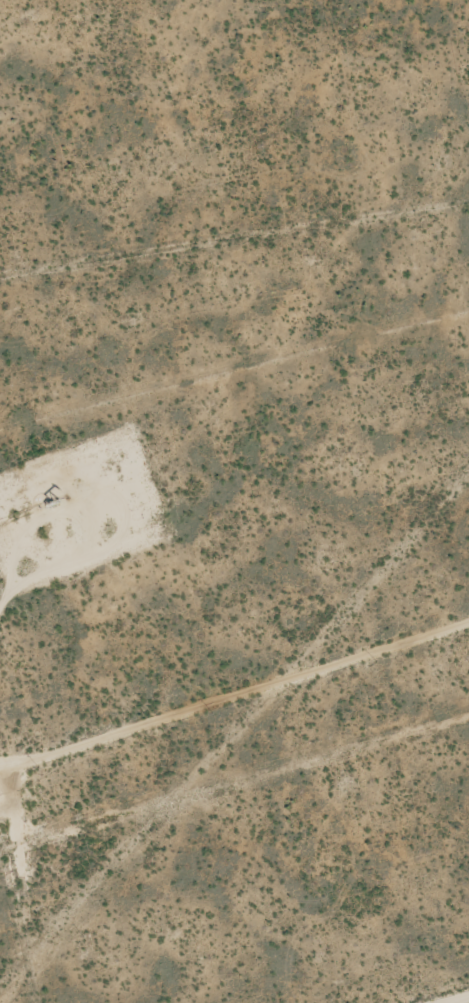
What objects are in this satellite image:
road: (234, 688)
road: (451, 998)

